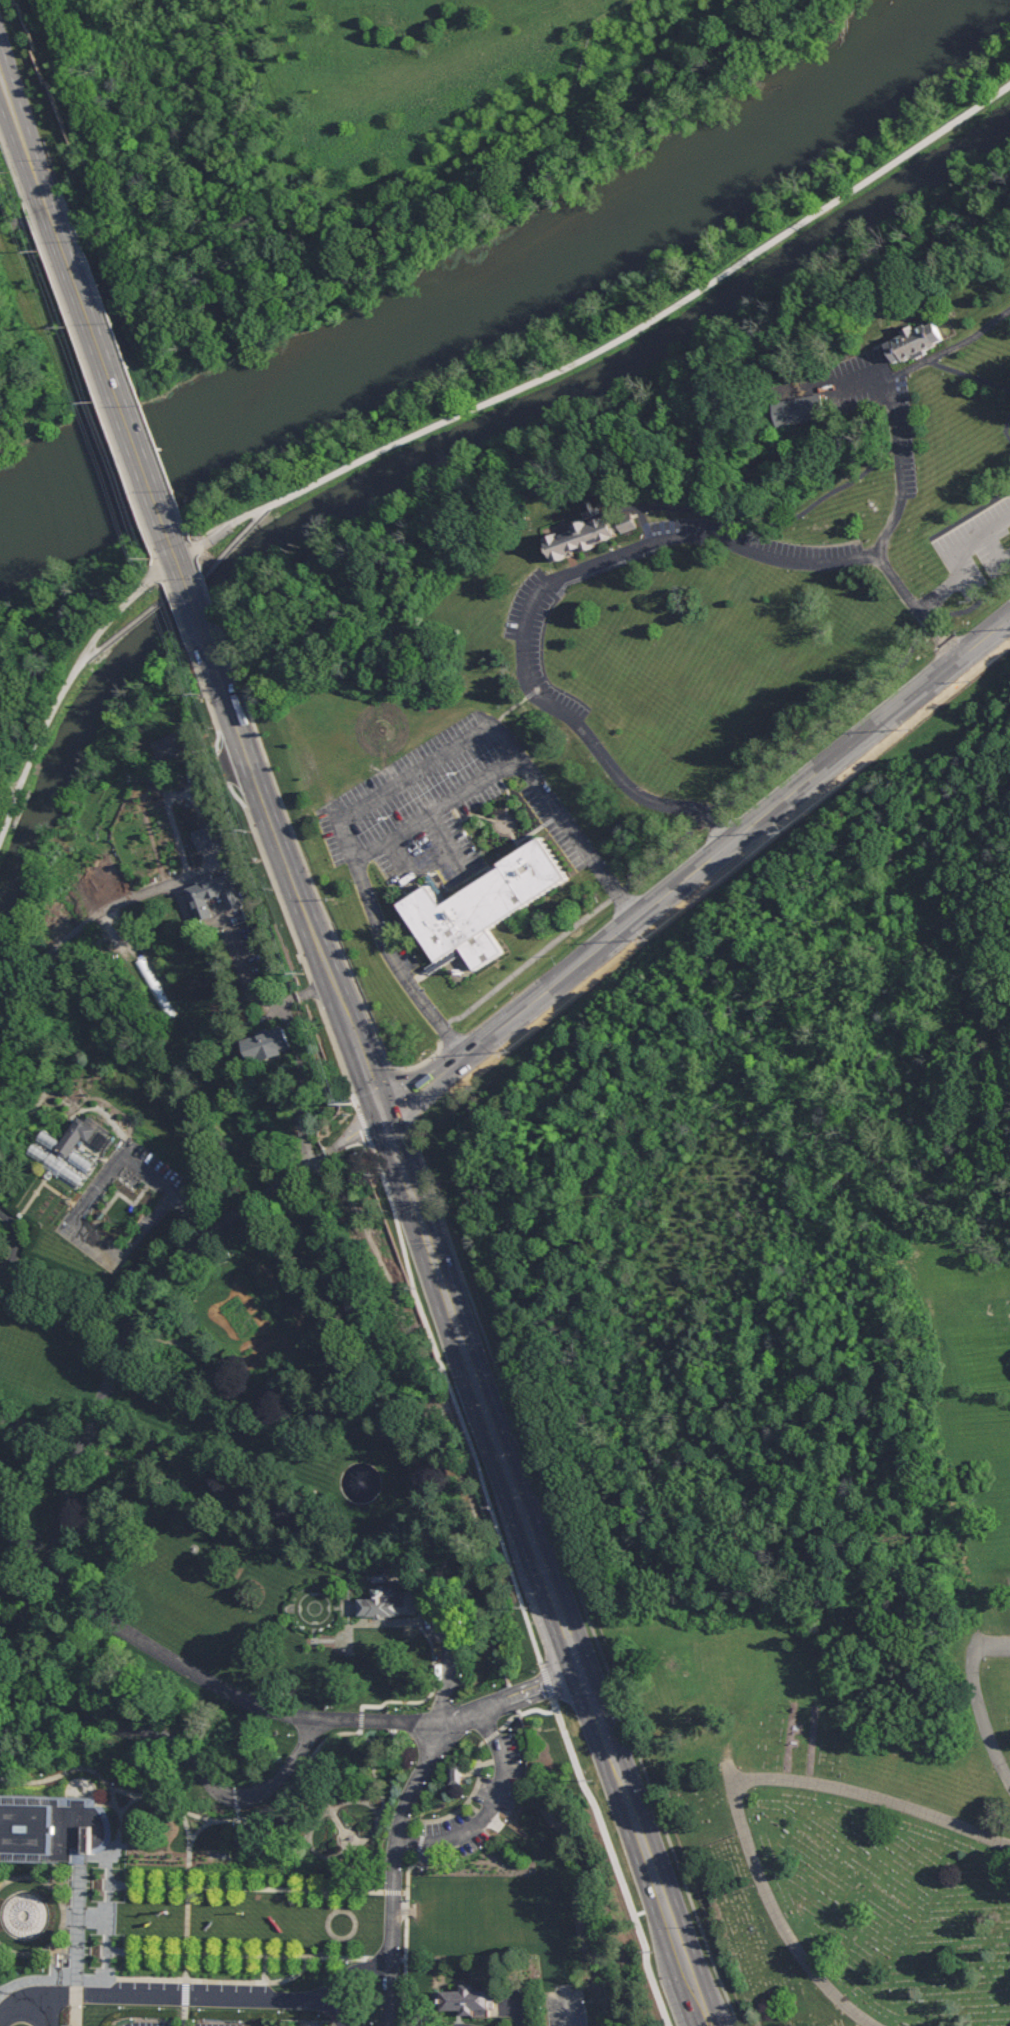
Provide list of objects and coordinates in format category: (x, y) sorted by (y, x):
road: (22, 142)
road: (12, 166)
river: (502, 298)
building: (914, 342)
road: (958, 347)
road: (106, 368)
road: (969, 376)
road: (90, 378)
building: (800, 411)
road: (140, 417)
road: (451, 418)
road: (1005, 430)
parking lot: (901, 431)
road: (896, 447)
road: (971, 515)
building: (586, 534)
parking lot: (753, 546)
parking lot: (978, 549)
road: (996, 553)
road: (870, 555)
road: (175, 558)
road: (952, 562)
road: (593, 567)
road: (160, 572)
road: (187, 587)
road: (194, 613)
road: (179, 621)
parking lot: (539, 652)
park: (43, 662)
building: (171, 748)
road: (403, 777)
road: (8, 797)
road: (726, 803)
road: (438, 810)
road: (173, 813)
parking lot: (439, 816)
road: (4, 832)
road: (278, 837)
building: (211, 839)
road: (445, 840)
road: (402, 856)
road: (696, 868)
road: (278, 892)
building: (216, 894)
road: (316, 895)
building: (484, 902)
road: (71, 934)
road: (224, 944)
building: (269, 1047)
road: (52, 1060)
road: (367, 1074)
road: (102, 1099)
traffic signals: (385, 1121)
building: (65, 1151)
road: (298, 1174)
road: (98, 1188)
road: (169, 1190)
road: (62, 1197)
road: (29, 1201)
road: (124, 1203)
parking lot: (121, 1204)
road: (146, 1222)
road: (99, 1237)
road: (13, 1242)
road: (64, 1299)
road: (467, 1345)
park: (794, 1373)
road: (41, 1431)
park: (236, 1449)
fountain: (363, 1482)
road: (58, 1525)
road: (562, 1545)
road: (44, 1566)
road: (15, 1586)
building: (384, 1594)
road: (568, 1619)
road: (440, 1625)
road: (17, 1627)
road: (430, 1640)
parking lot: (456, 1667)
road: (517, 1699)
road: (977, 1702)
road: (602, 1713)
road: (424, 1721)
road: (179, 1749)
road: (491, 1763)
road: (308, 1766)
road: (91, 1771)
building: (456, 1776)
road: (733, 1778)
road: (740, 1787)
road: (122, 1793)
road: (327, 1802)
parking lot: (483, 1803)
road: (489, 1807)
road: (459, 1811)
road: (198, 1817)
building: (50, 1825)
road: (237, 1834)
road: (356, 1843)
road: (310, 1844)
road: (357, 1846)
road: (96, 1858)
road: (396, 1869)
road: (296, 1871)
road: (57, 1875)
road: (190, 1879)
road: (68, 1883)
road: (229, 1887)
road: (661, 1888)
fountain: (25, 1913)
road: (65, 1916)
road: (87, 1916)
road: (109, 1916)
road: (350, 1936)
road: (79, 1943)
road: (67, 1950)
road: (228, 1955)
road: (54, 1961)
road: (267, 1969)
road: (159, 1980)
road: (346, 1981)
road: (724, 1992)
road: (183, 1997)
building: (468, 2004)
parking lot: (565, 2006)
road: (564, 2011)
road: (22, 2013)
parking lot: (306, 2019)
parking lot: (186, 2022)
road: (705, 2022)
road: (707, 2022)
parking lot: (306, 2023)
road: (310, 2025)

